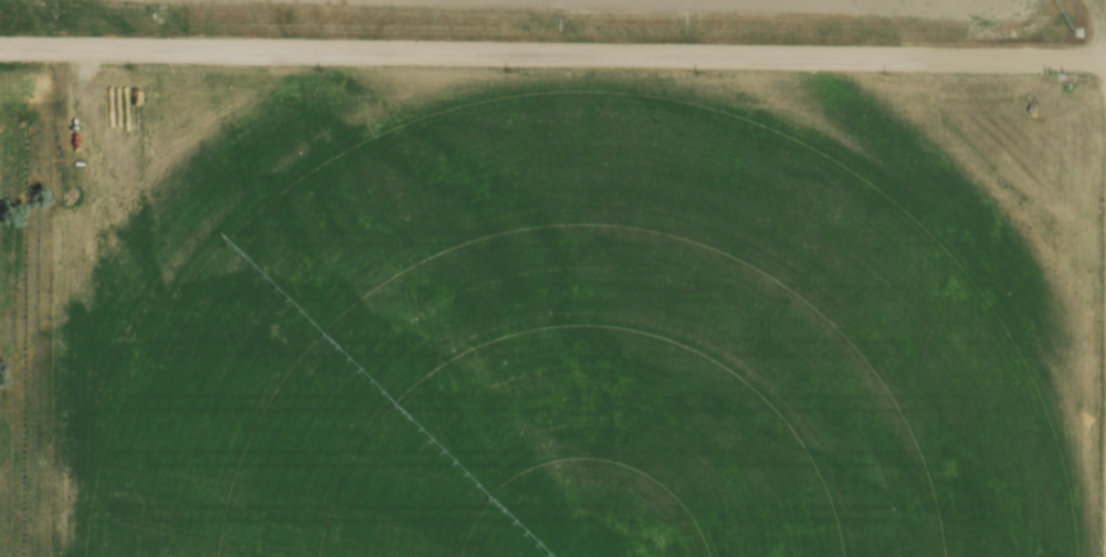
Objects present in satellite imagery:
crop: (845, 6)
road: (552, 52)
crop: (590, 320)

